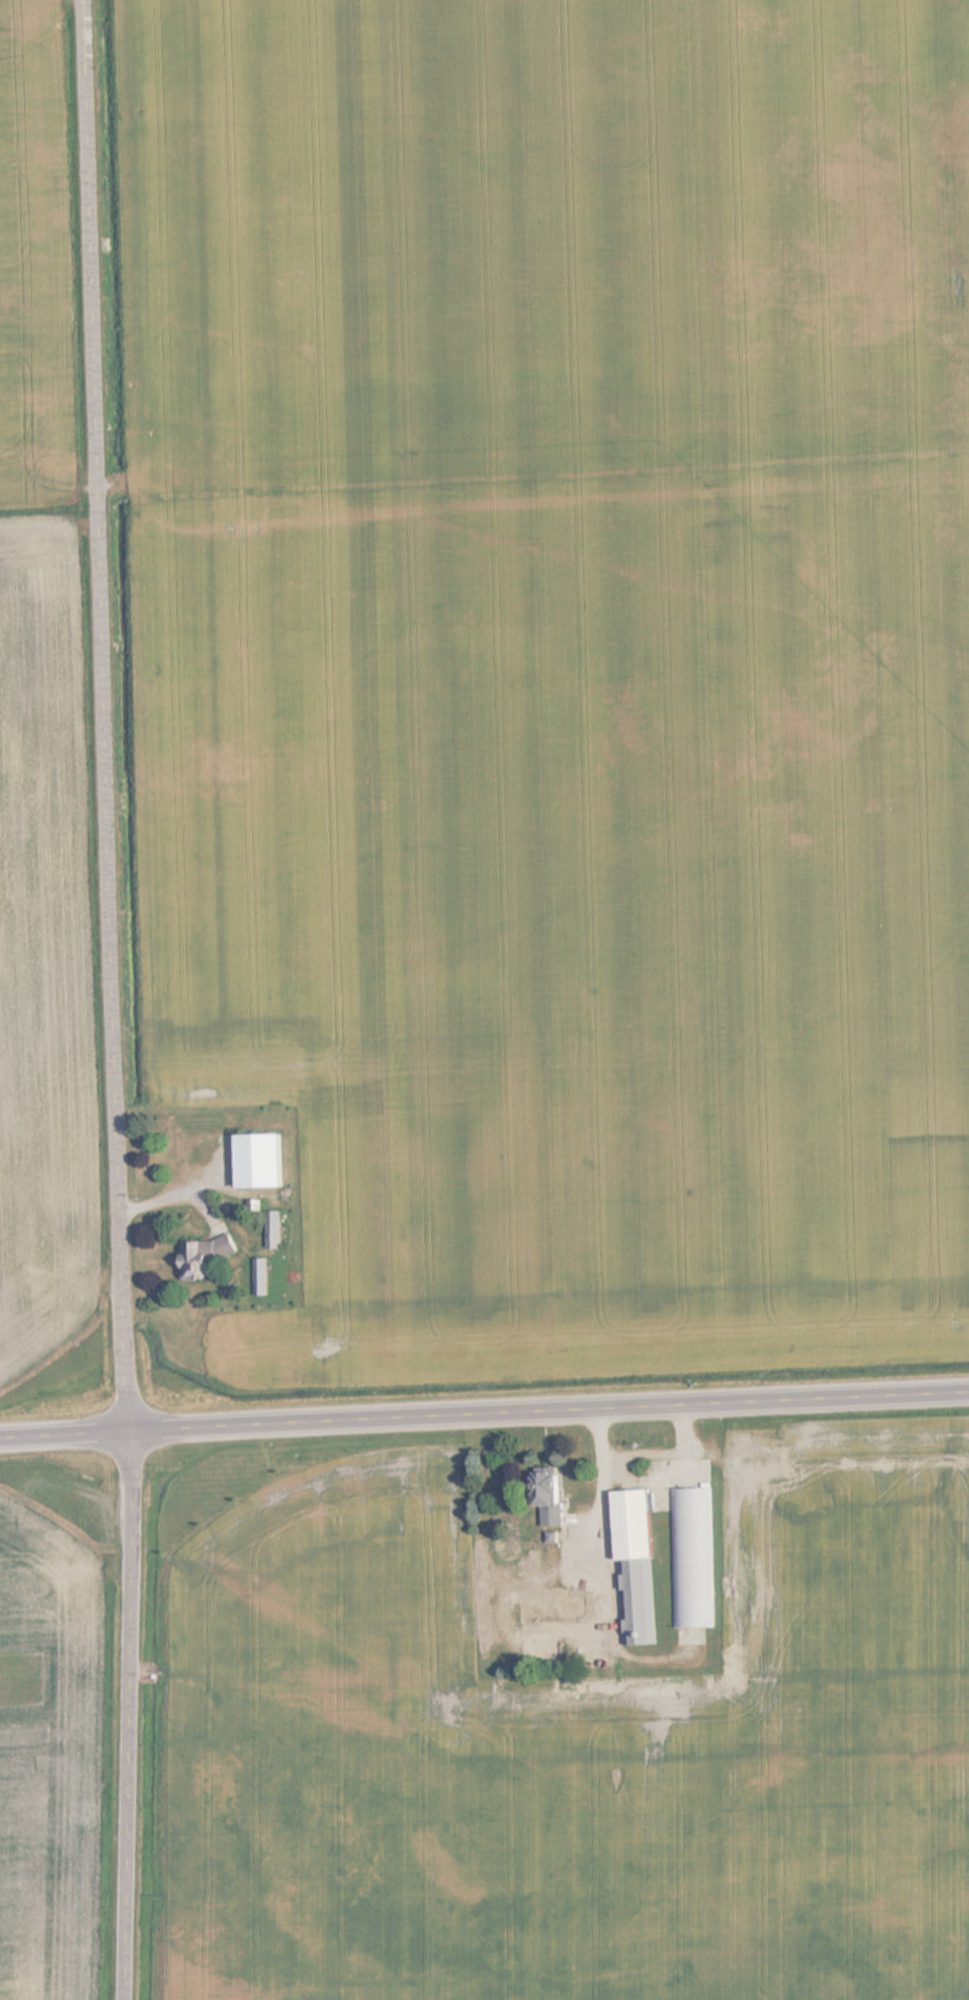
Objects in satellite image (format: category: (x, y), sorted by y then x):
road: (111, 716)
building: (255, 1208)
building: (276, 1230)
building: (207, 1255)
building: (263, 1276)
road: (484, 1417)
building: (554, 1496)
building: (511, 1545)
building: (692, 1557)
building: (638, 1563)
building: (487, 1589)
road: (132, 1716)

